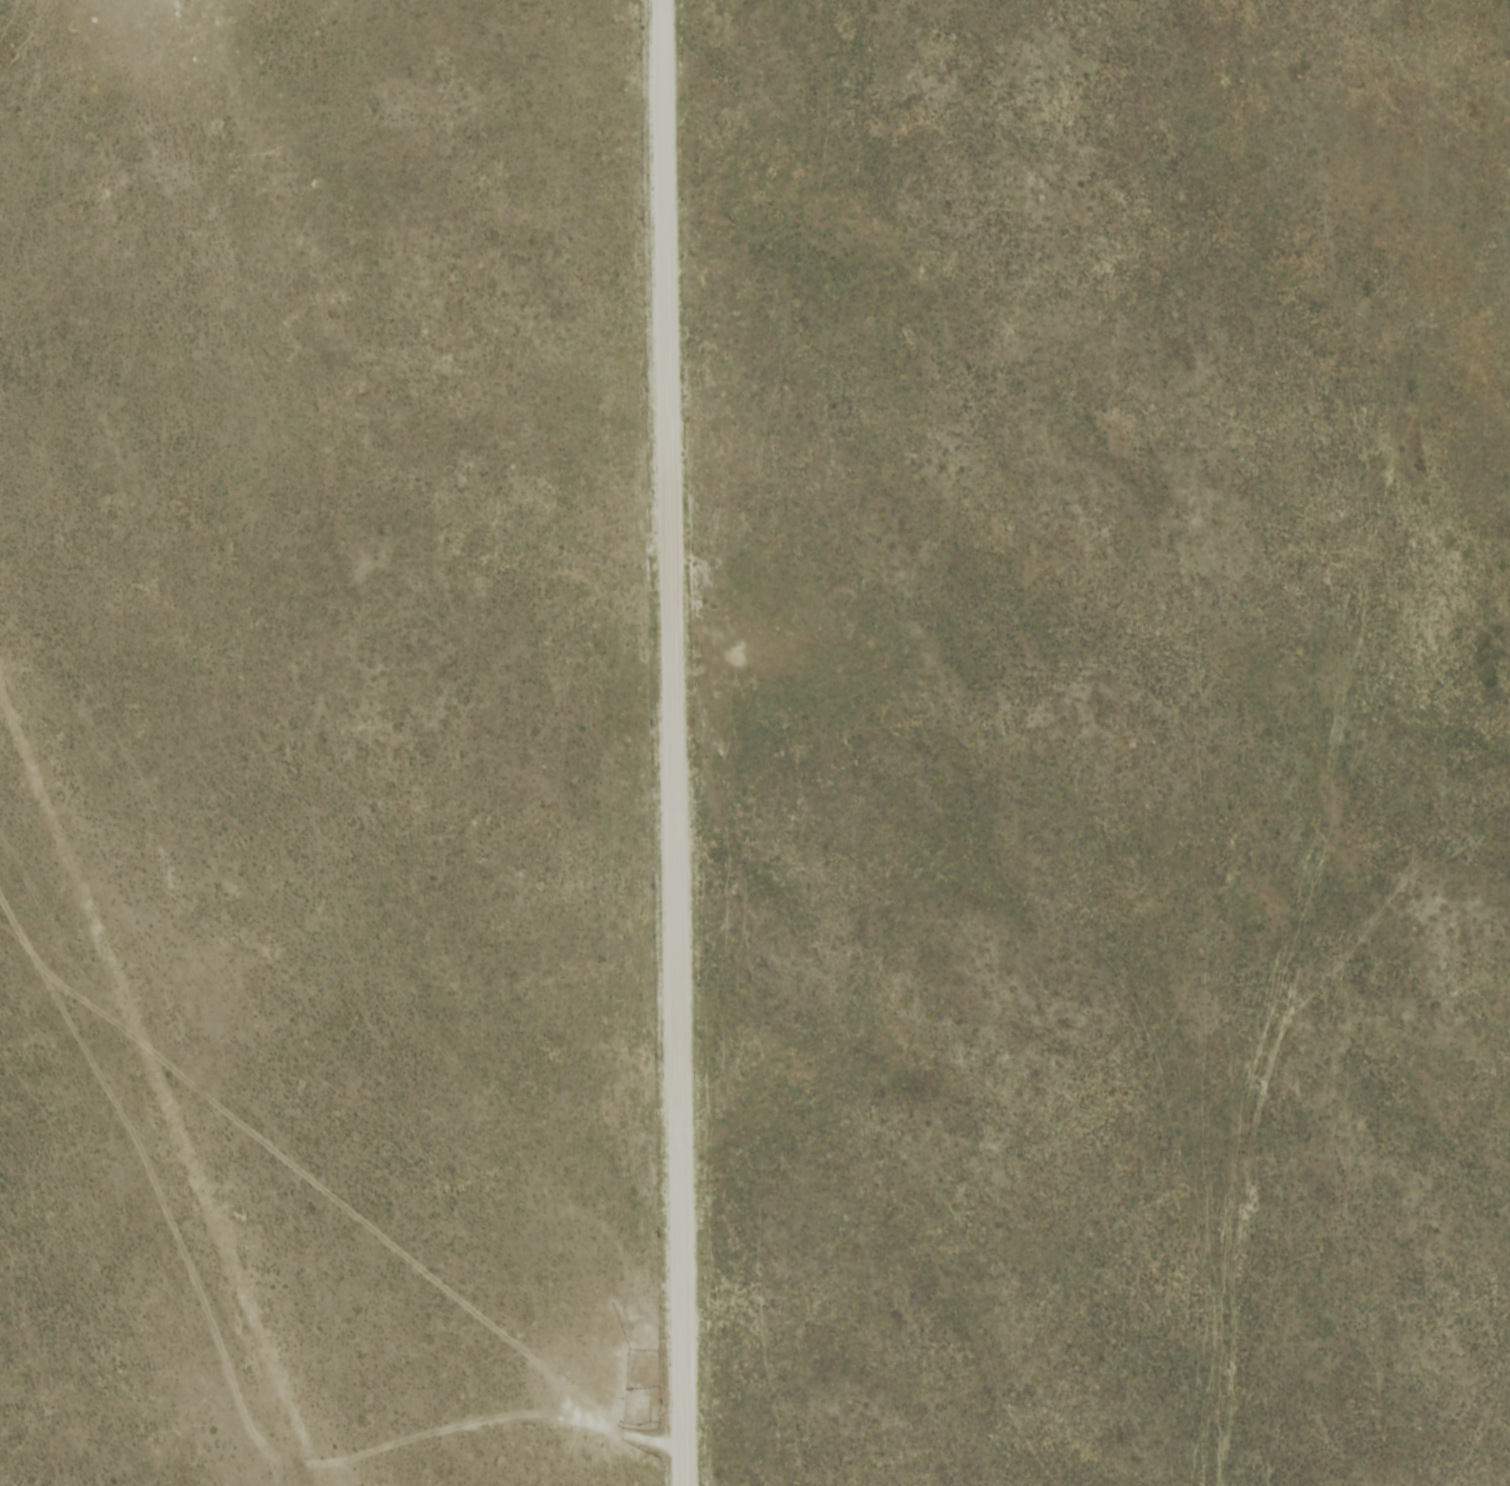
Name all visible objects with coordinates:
road: (673, 742)
road: (309, 1179)

